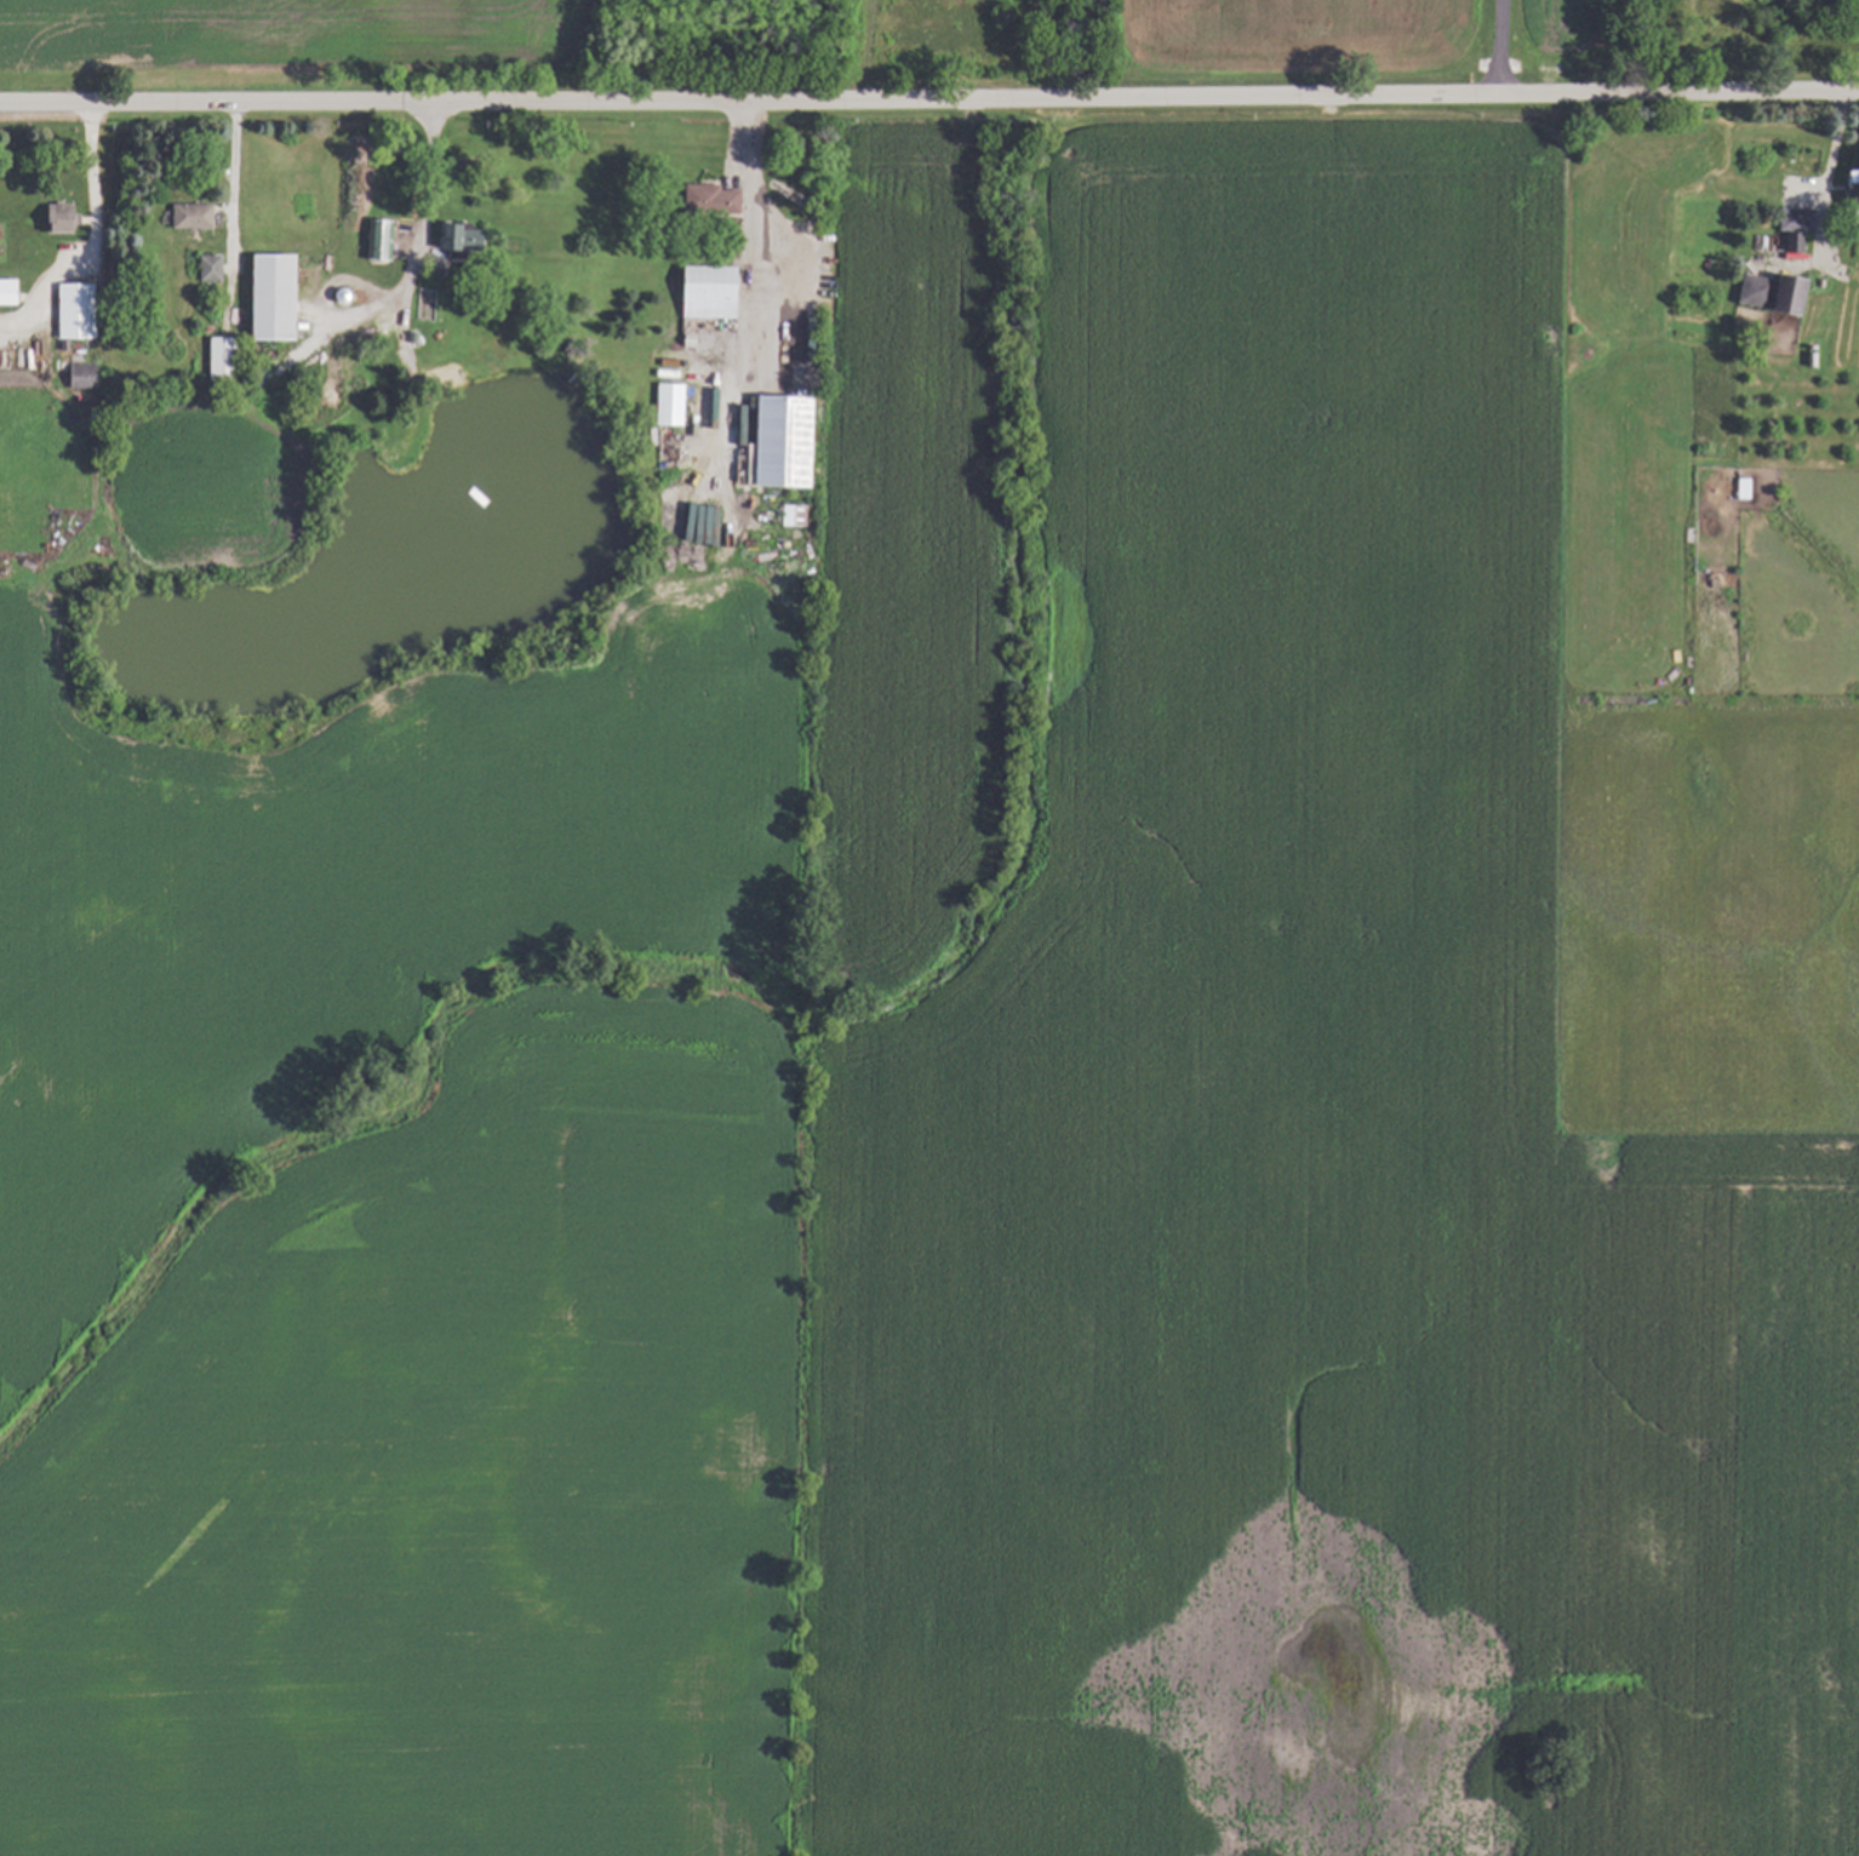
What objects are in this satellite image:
building: (913, 11)
landfill: (1698, 41)
landfill: (520, 47)
road: (1497, 47)
road: (930, 98)
road: (1829, 160)
road: (429, 170)
road: (233, 182)
building: (704, 197)
building: (185, 216)
building: (53, 217)
building: (451, 237)
building: (373, 239)
road: (93, 241)
building: (1789, 244)
building: (204, 267)
building: (4, 291)
building: (700, 291)
building: (1767, 293)
road: (387, 294)
building: (267, 297)
building: (65, 310)
building: (213, 355)
building: (75, 374)
building: (664, 403)
building: (773, 441)
building: (697, 523)
crop: (932, 1139)

